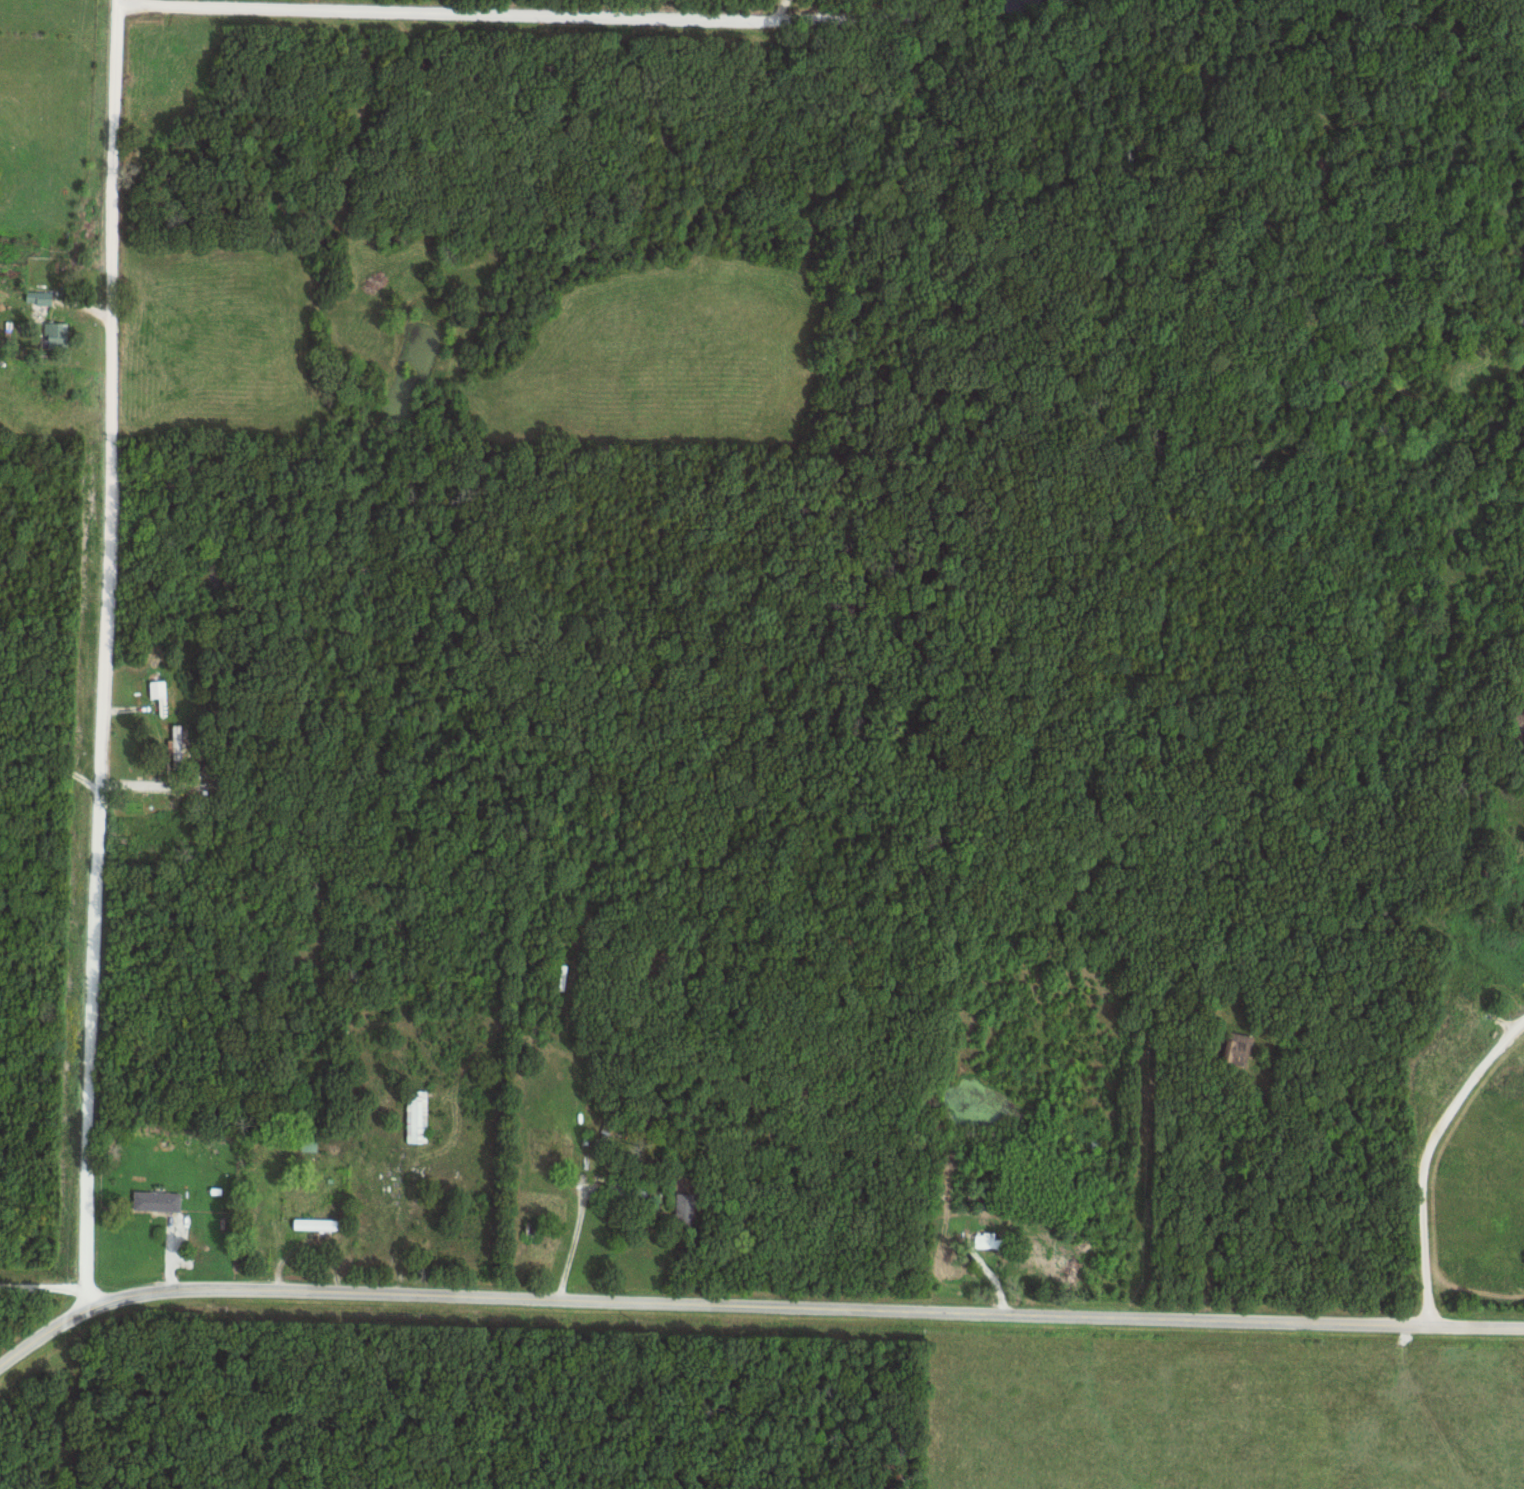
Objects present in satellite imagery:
road: (533, 9)
building: (46, 297)
building: (61, 336)
road: (109, 644)
building: (178, 744)
road: (105, 785)
building: (1239, 1049)
building: (418, 1116)
building: (310, 1146)
road: (1423, 1155)
building: (159, 1201)
building: (984, 1202)
building: (686, 1209)
road: (404, 1215)
building: (318, 1224)
road: (585, 1226)
building: (990, 1240)
road: (51, 1284)
road: (751, 1302)

